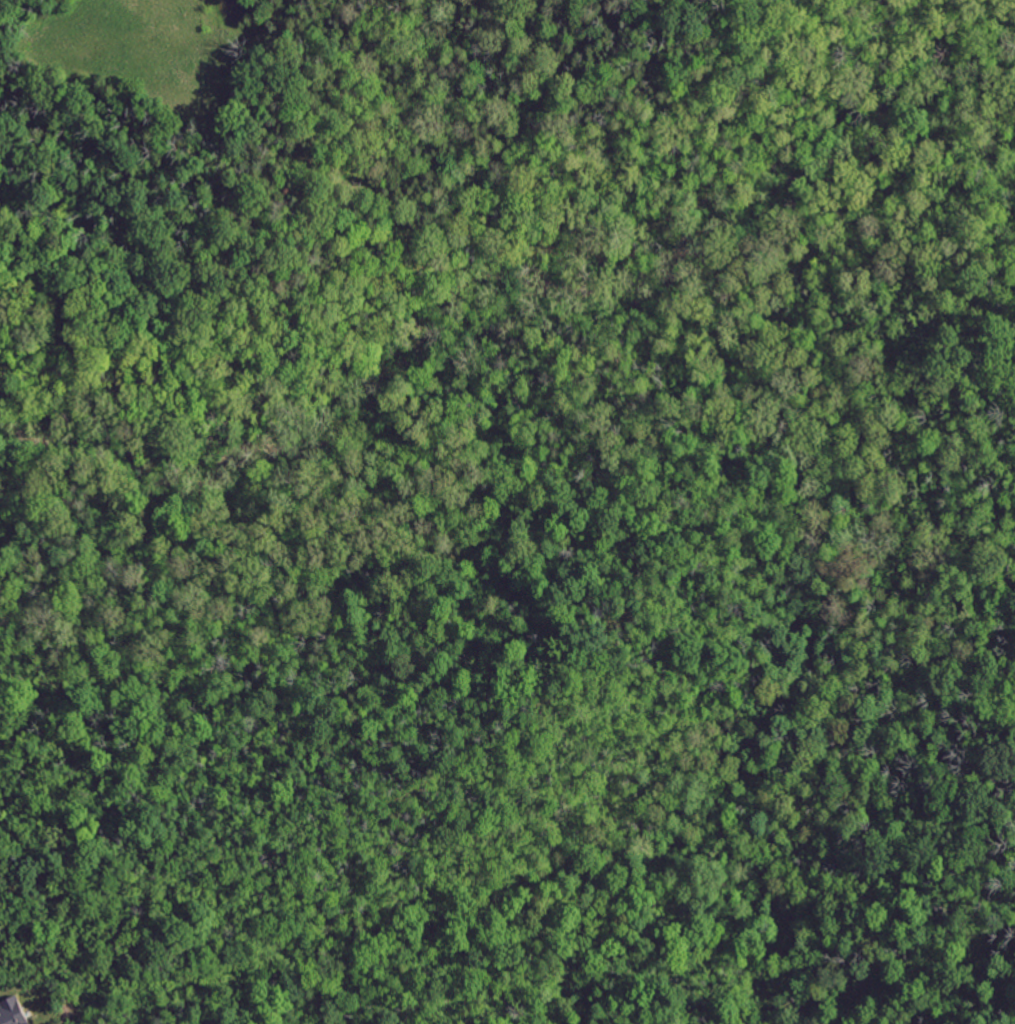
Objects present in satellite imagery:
building: (17, 1013)

